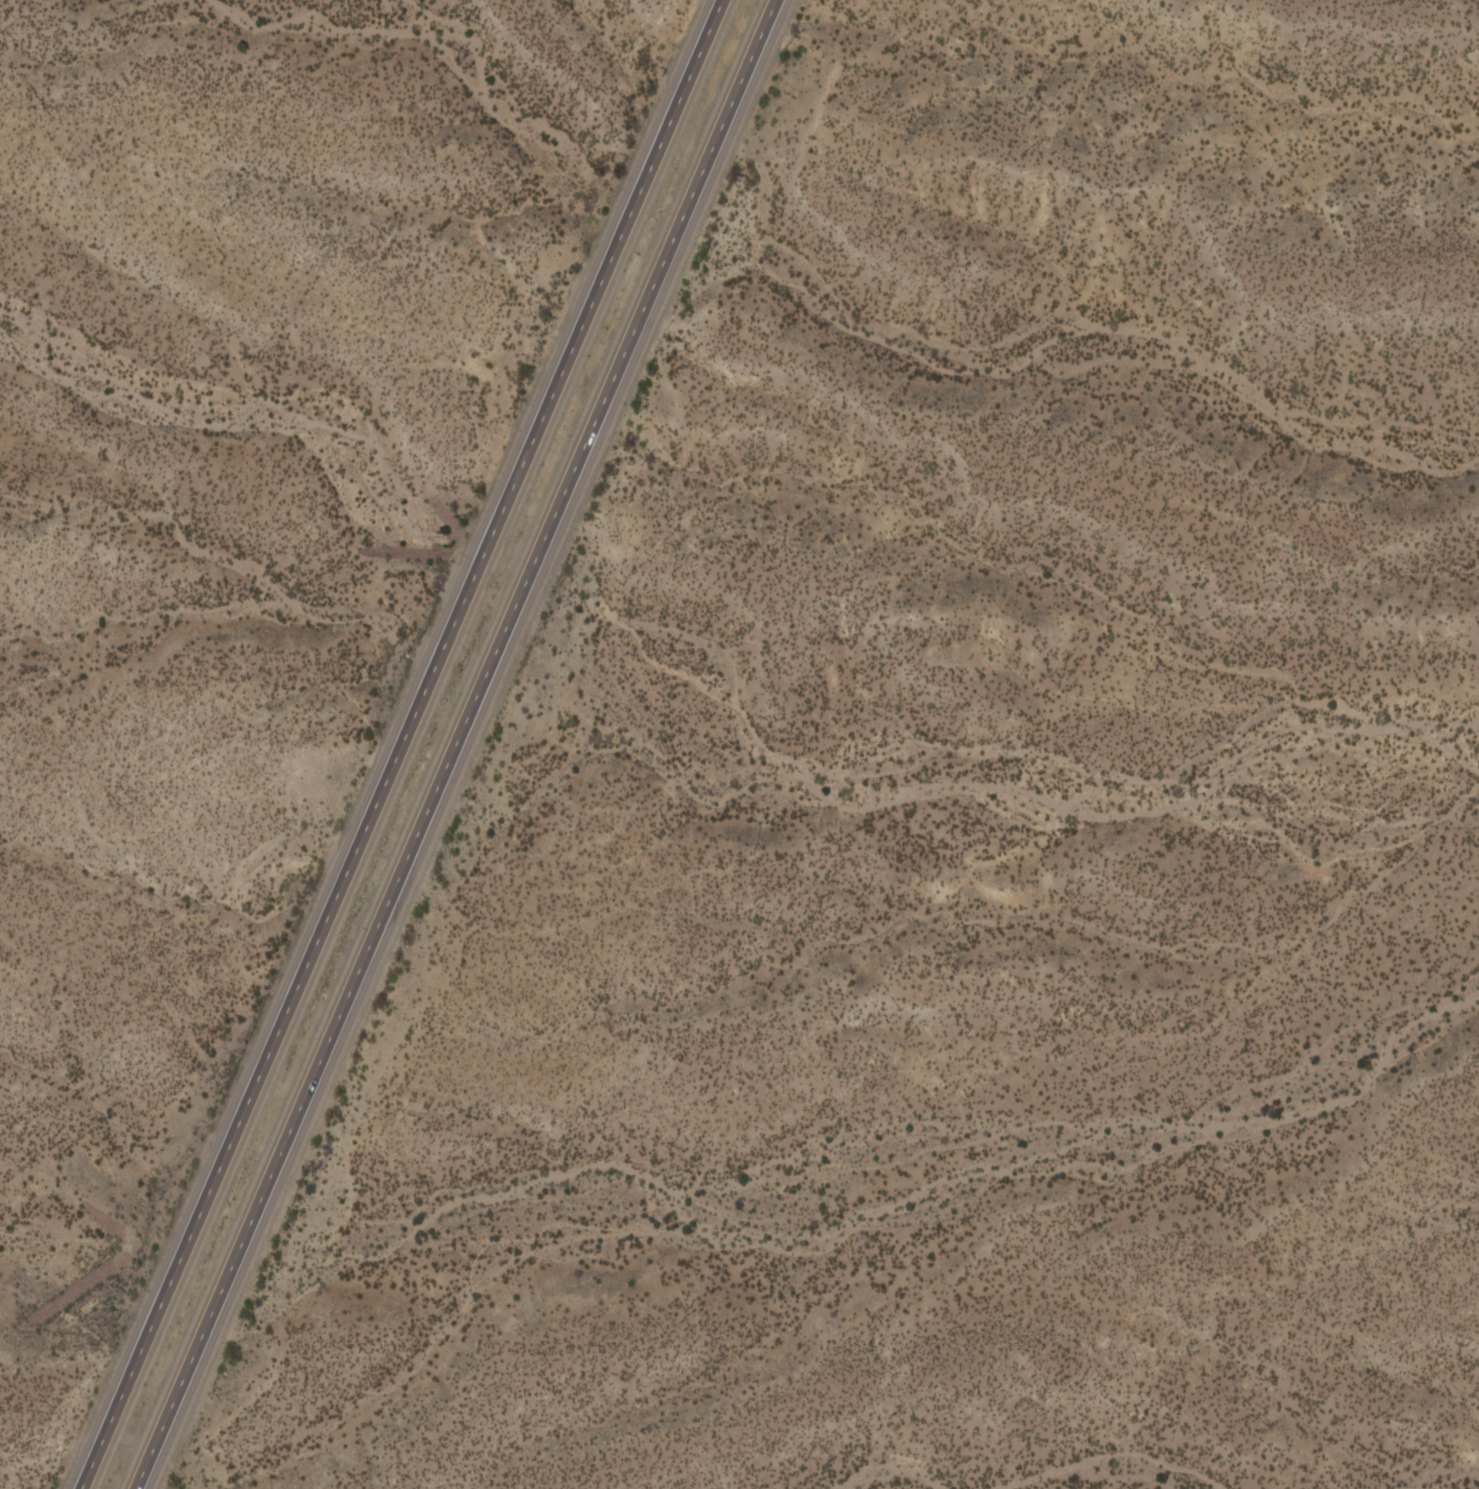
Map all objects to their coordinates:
road: (400, 744)
road: (455, 745)

